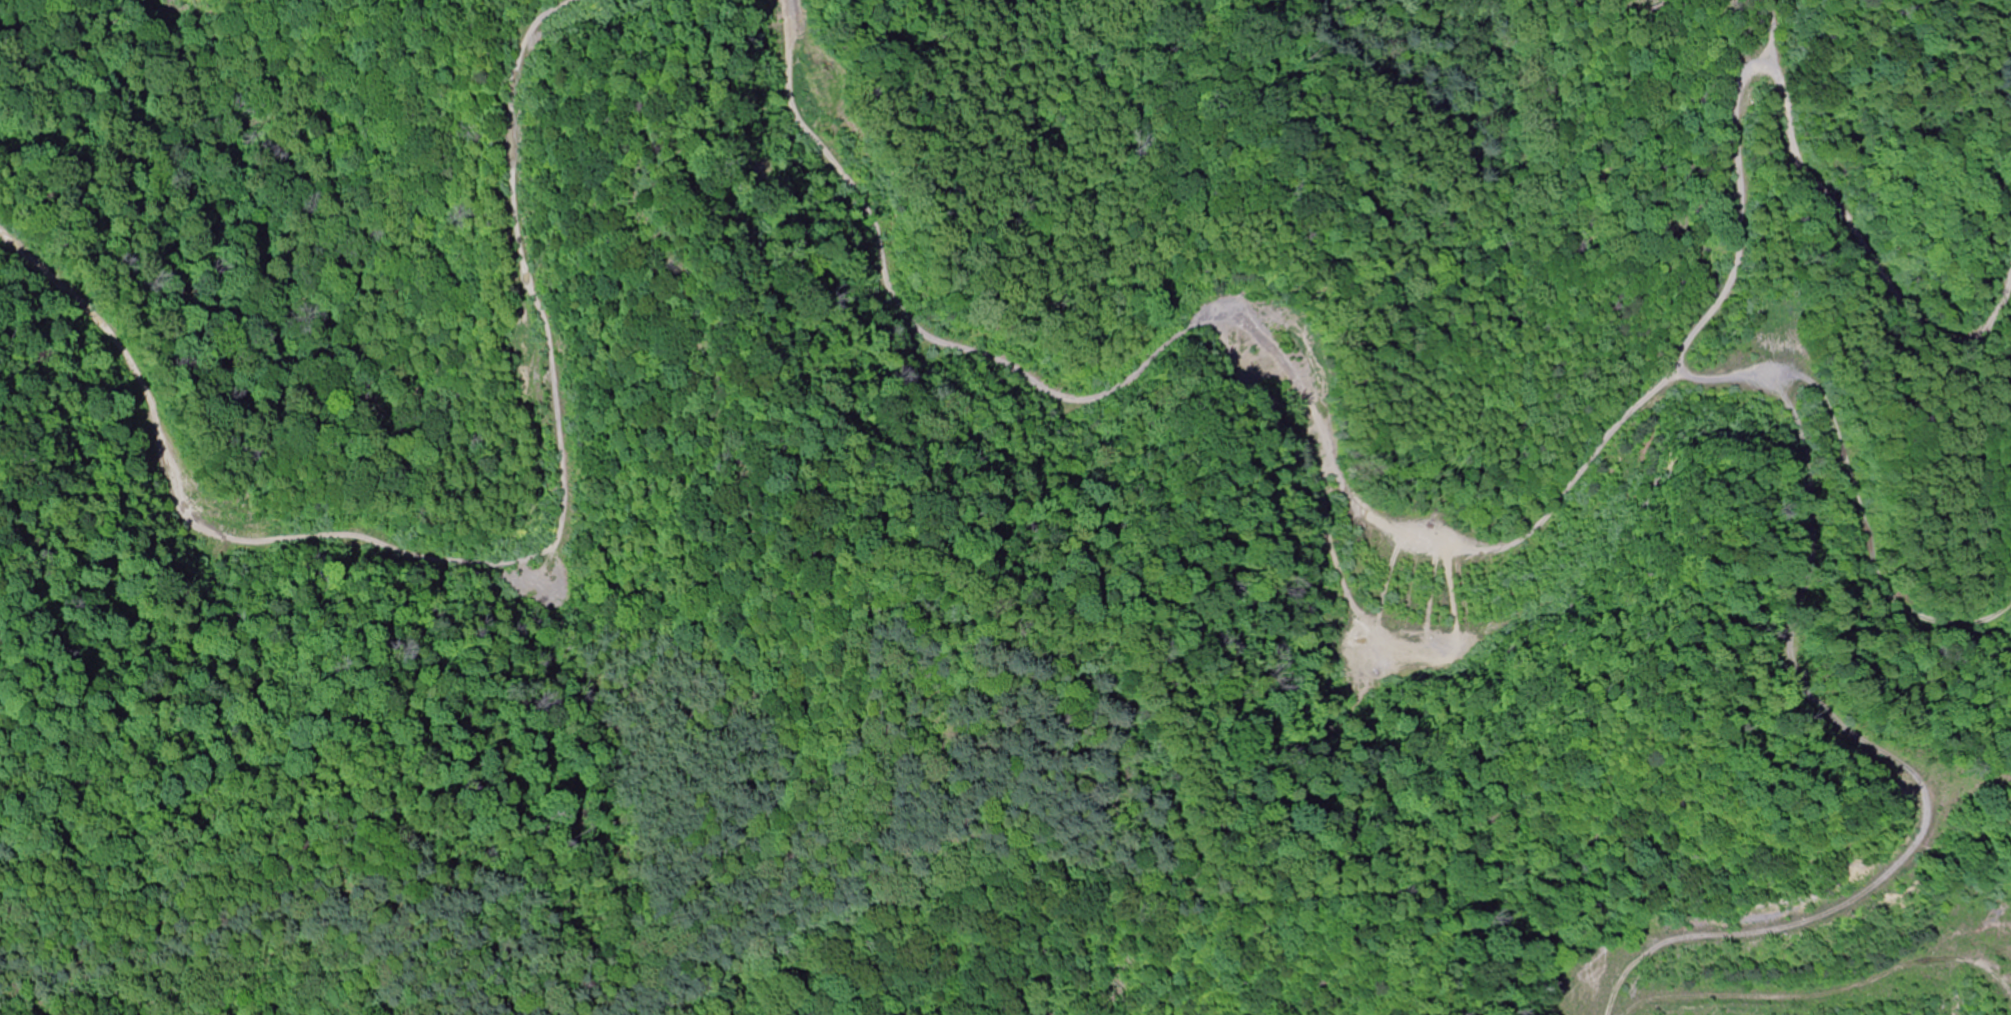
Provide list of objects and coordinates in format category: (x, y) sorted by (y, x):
road: (1615, 199)
road: (1866, 252)
building: (1755, 351)
building: (1816, 357)
road: (1345, 486)
road: (485, 565)
road: (1930, 774)

